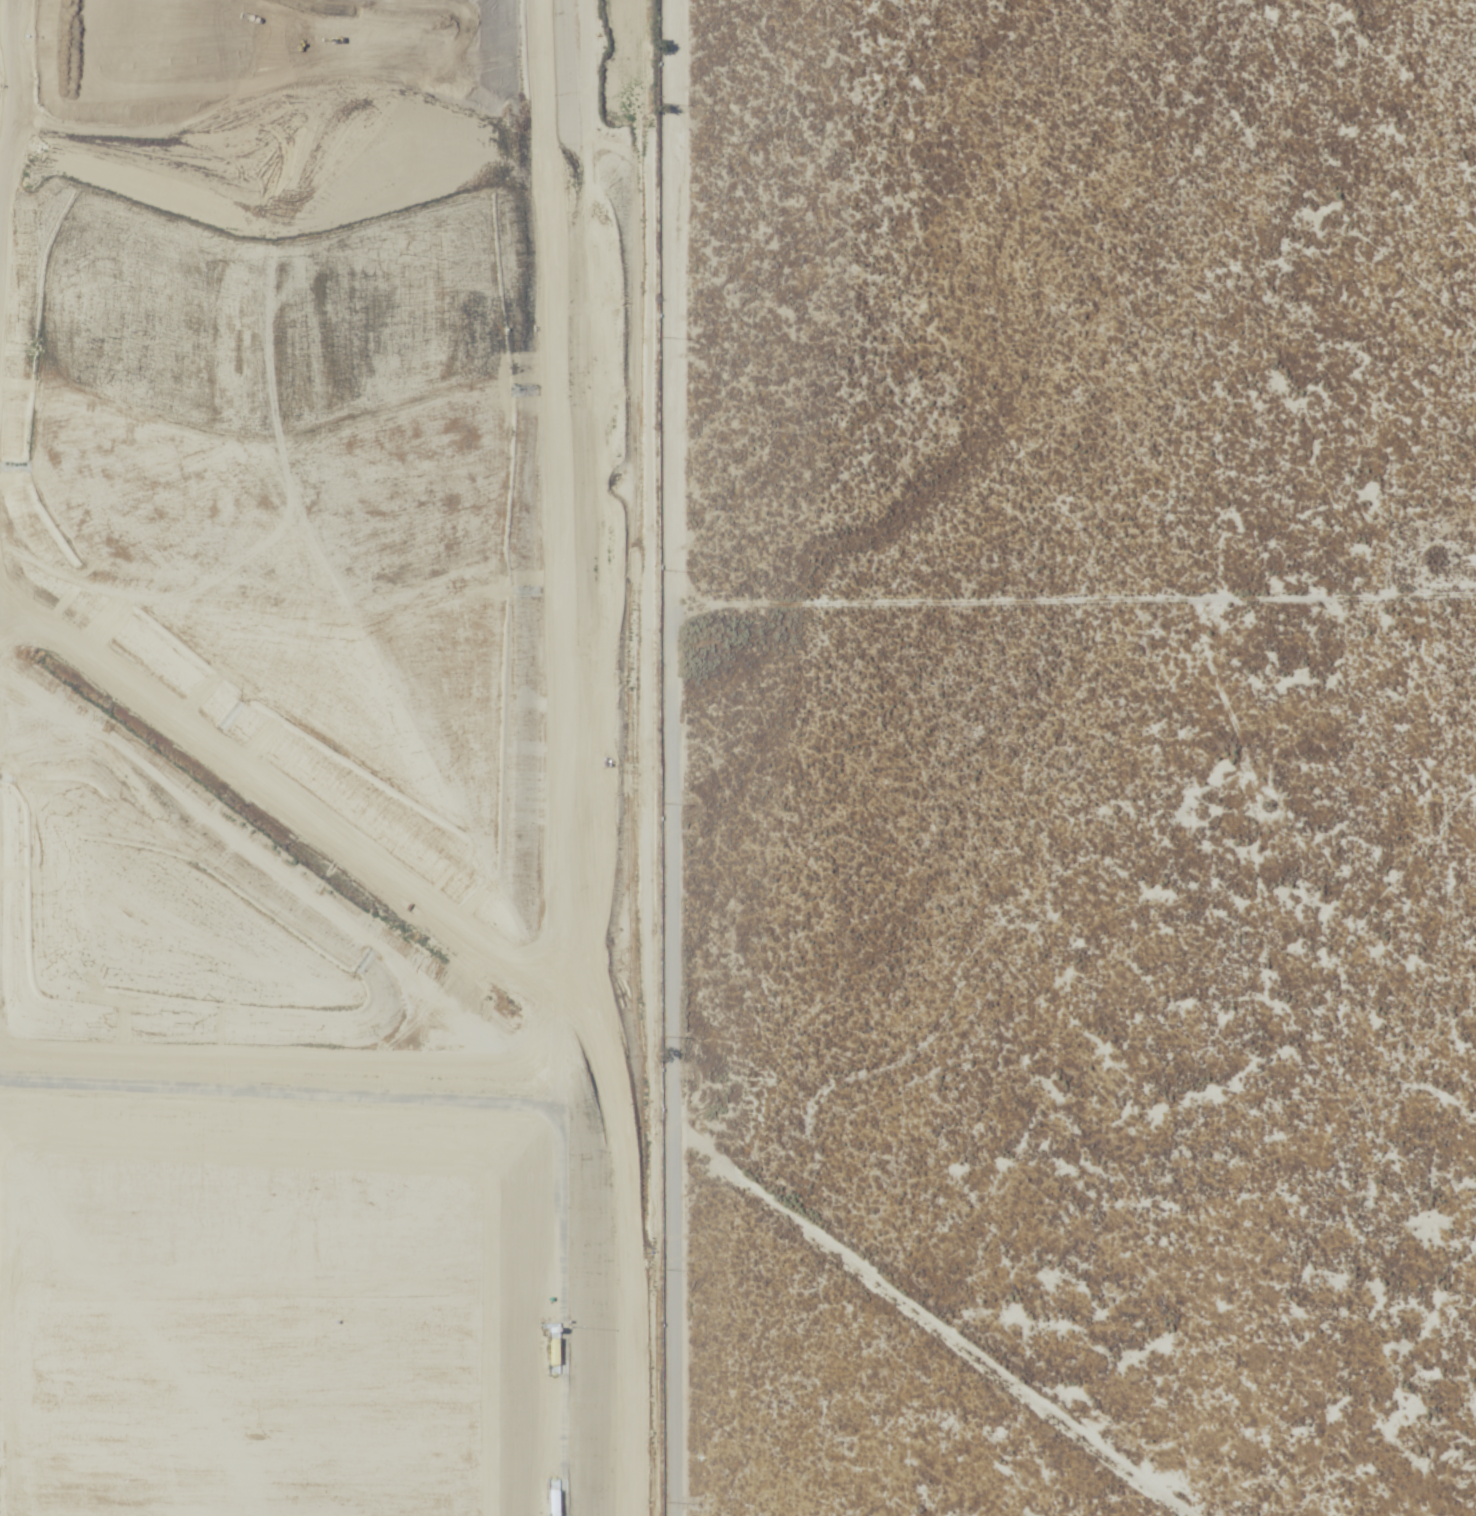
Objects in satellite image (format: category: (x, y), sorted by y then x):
landfill: (327, 758)
building: (538, 1349)
building: (536, 1499)

